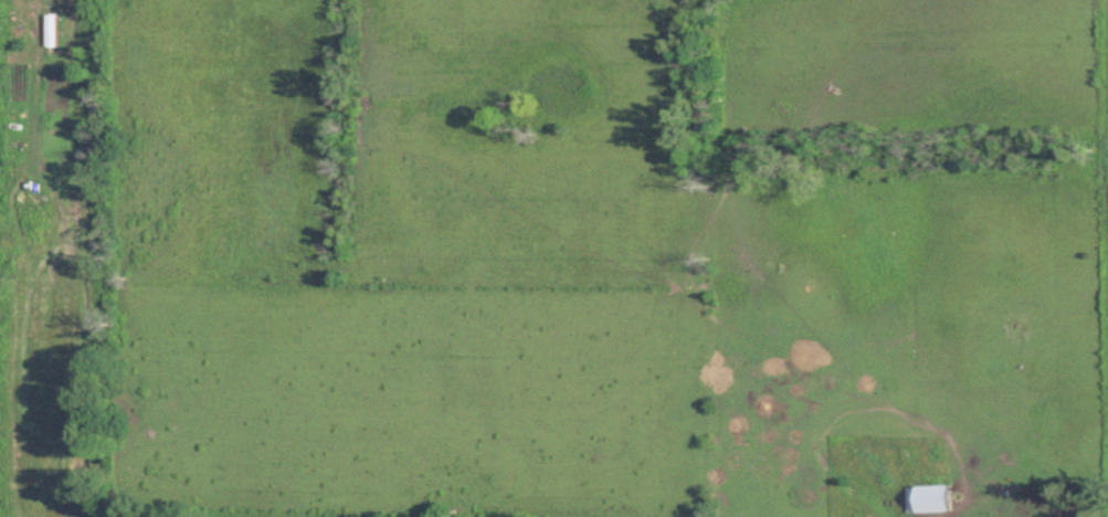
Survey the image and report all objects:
building: (57, 31)
building: (929, 498)
building: (1055, 511)

